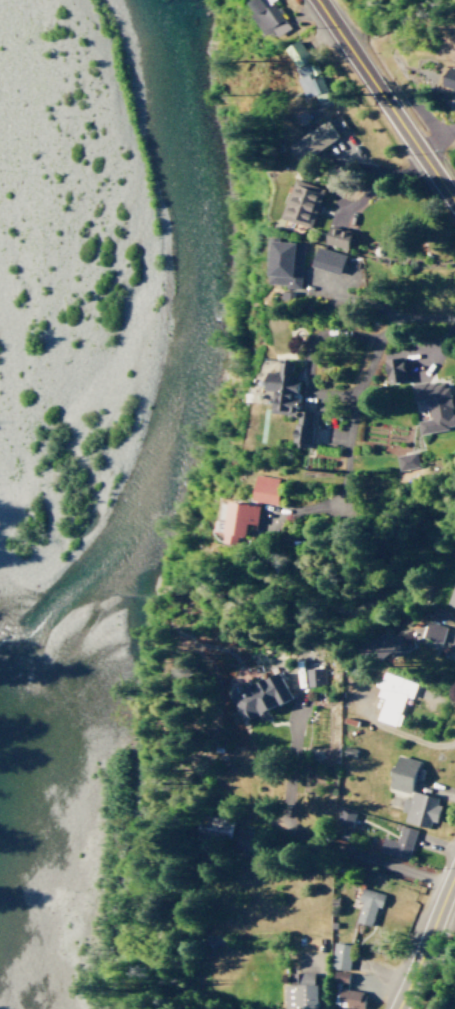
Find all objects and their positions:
building: (267, 17)
building: (296, 54)
building: (448, 79)
building: (316, 87)
road: (385, 101)
building: (311, 142)
building: (301, 203)
building: (335, 237)
building: (326, 260)
building: (284, 263)
road: (436, 354)
building: (393, 368)
building: (287, 400)
building: (433, 405)
river: (171, 410)
road: (355, 411)
building: (406, 460)
building: (263, 489)
building: (451, 596)
building: (434, 632)
building: (381, 645)
building: (314, 677)
road: (419, 679)
building: (393, 695)
building: (258, 696)
building: (402, 774)
building: (419, 809)
building: (345, 818)
building: (213, 829)
building: (399, 843)
river: (11, 855)
building: (367, 906)
road: (428, 946)
building: (340, 956)
building: (345, 994)

